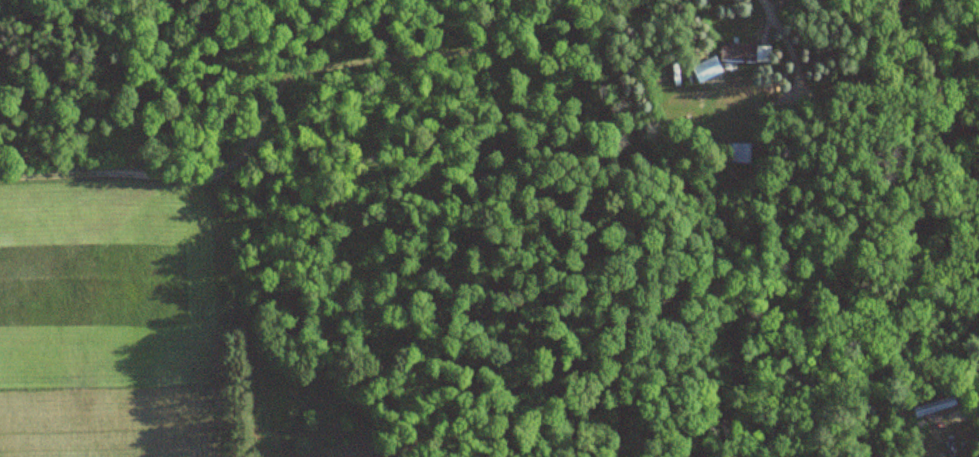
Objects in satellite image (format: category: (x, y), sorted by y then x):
building: (743, 52)
building: (741, 153)
building: (933, 407)
road: (962, 412)

